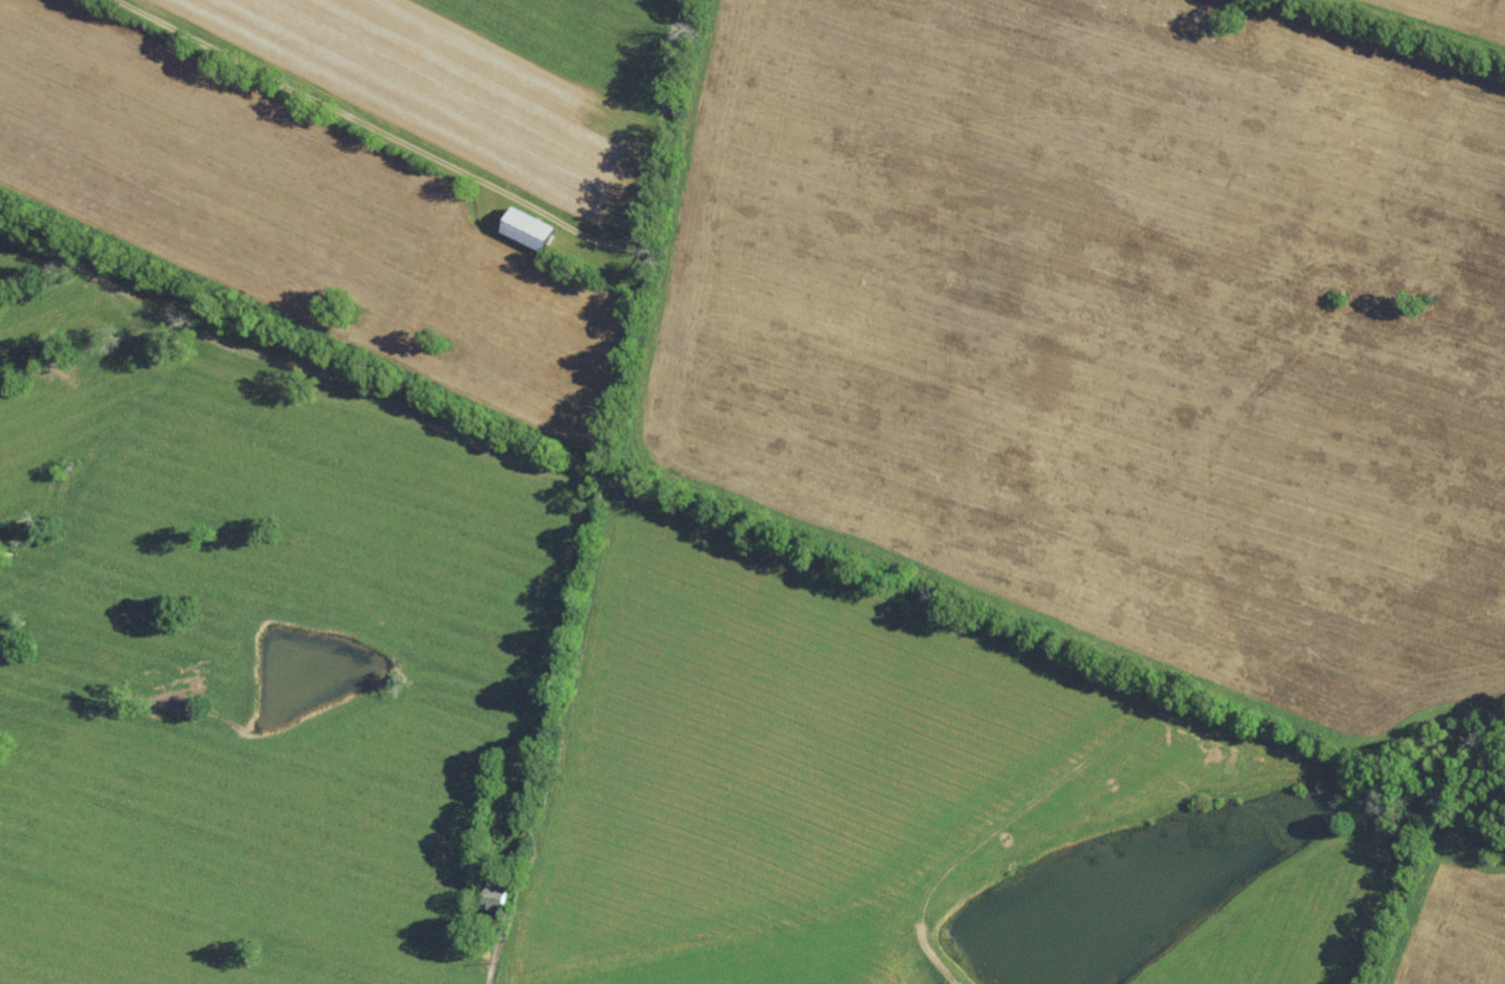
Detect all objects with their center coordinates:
road: (357, 120)
building: (531, 229)
building: (495, 897)
road: (496, 967)

